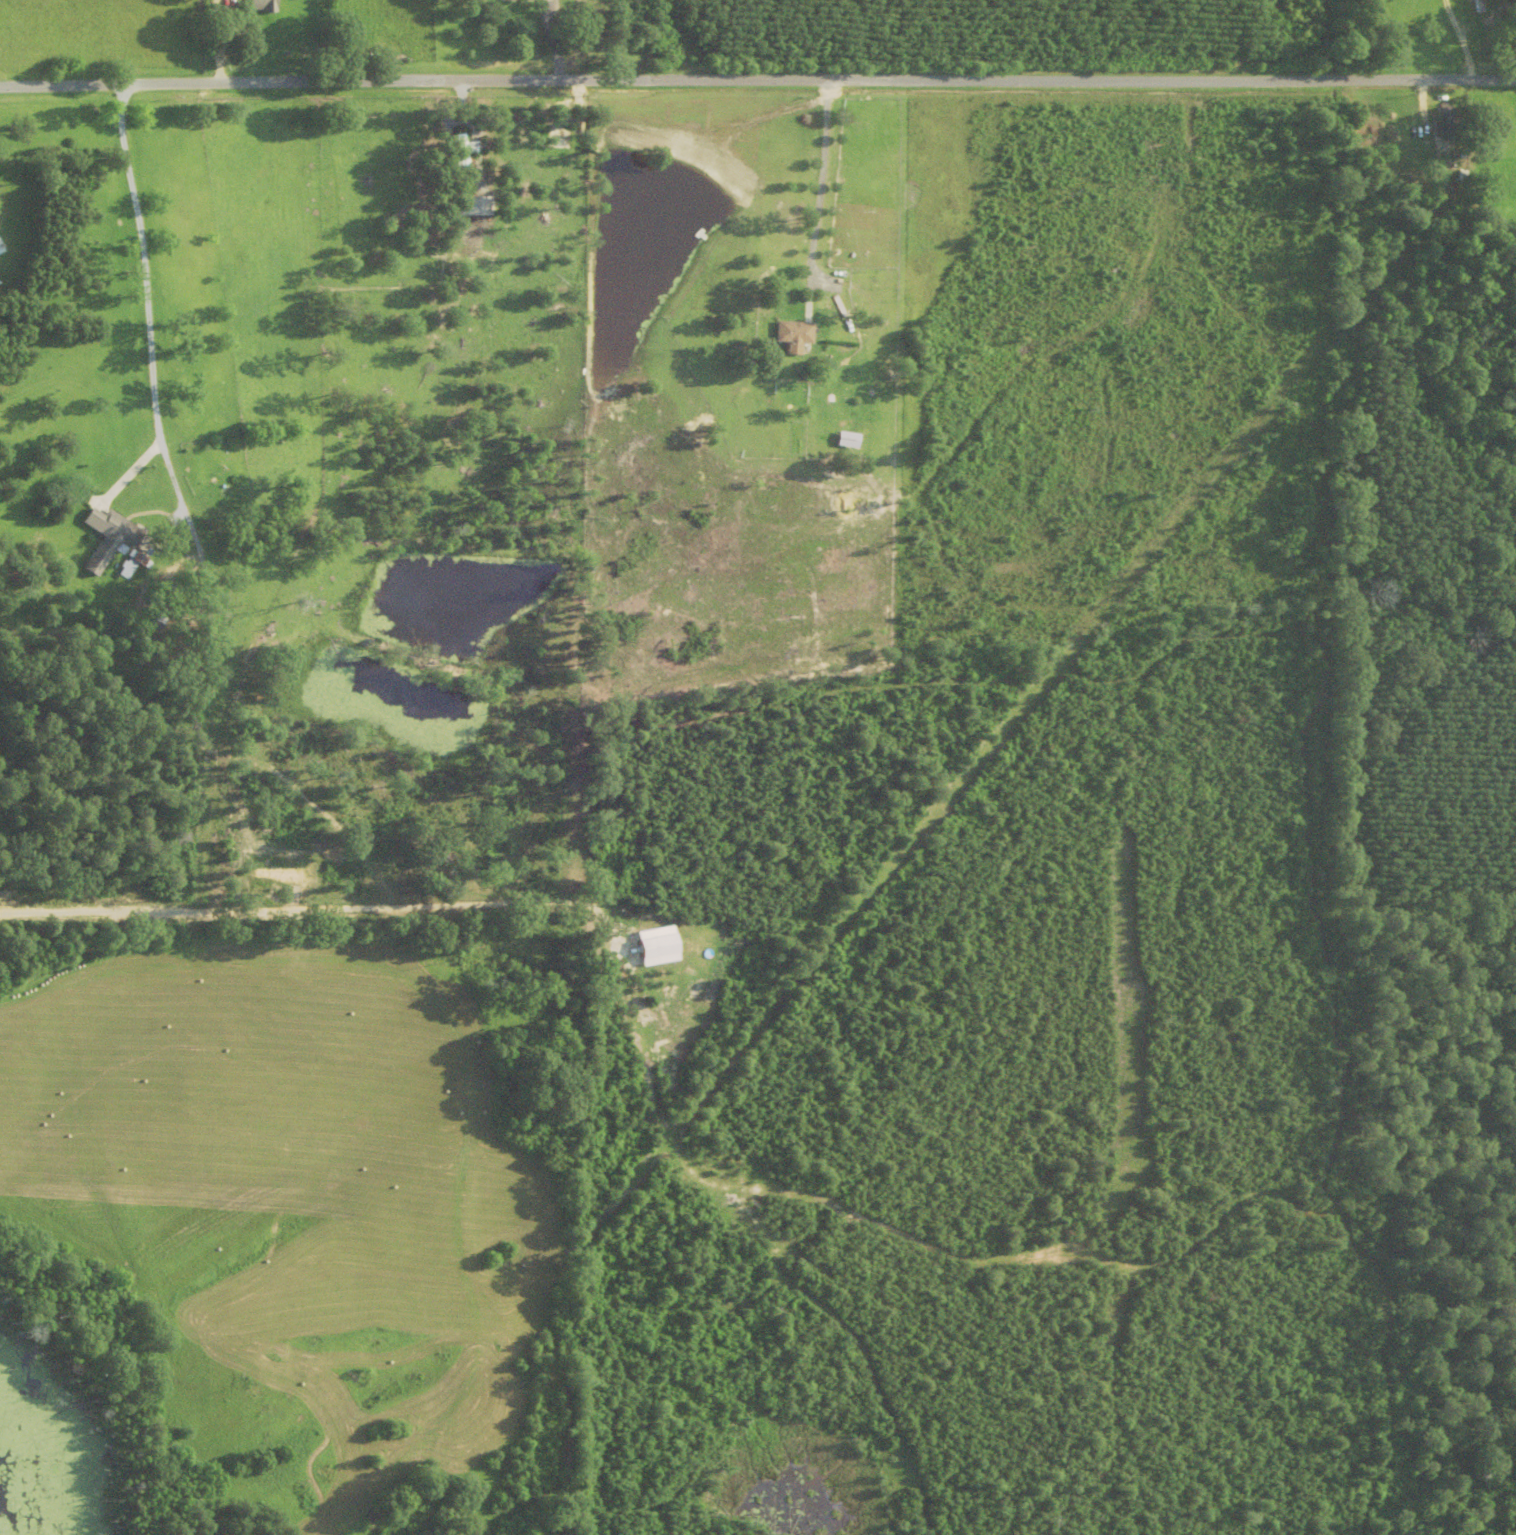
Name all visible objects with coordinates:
building: (259, 6)
road: (757, 76)
road: (819, 178)
building: (479, 259)
road: (156, 274)
building: (791, 336)
building: (844, 440)
building: (129, 562)

